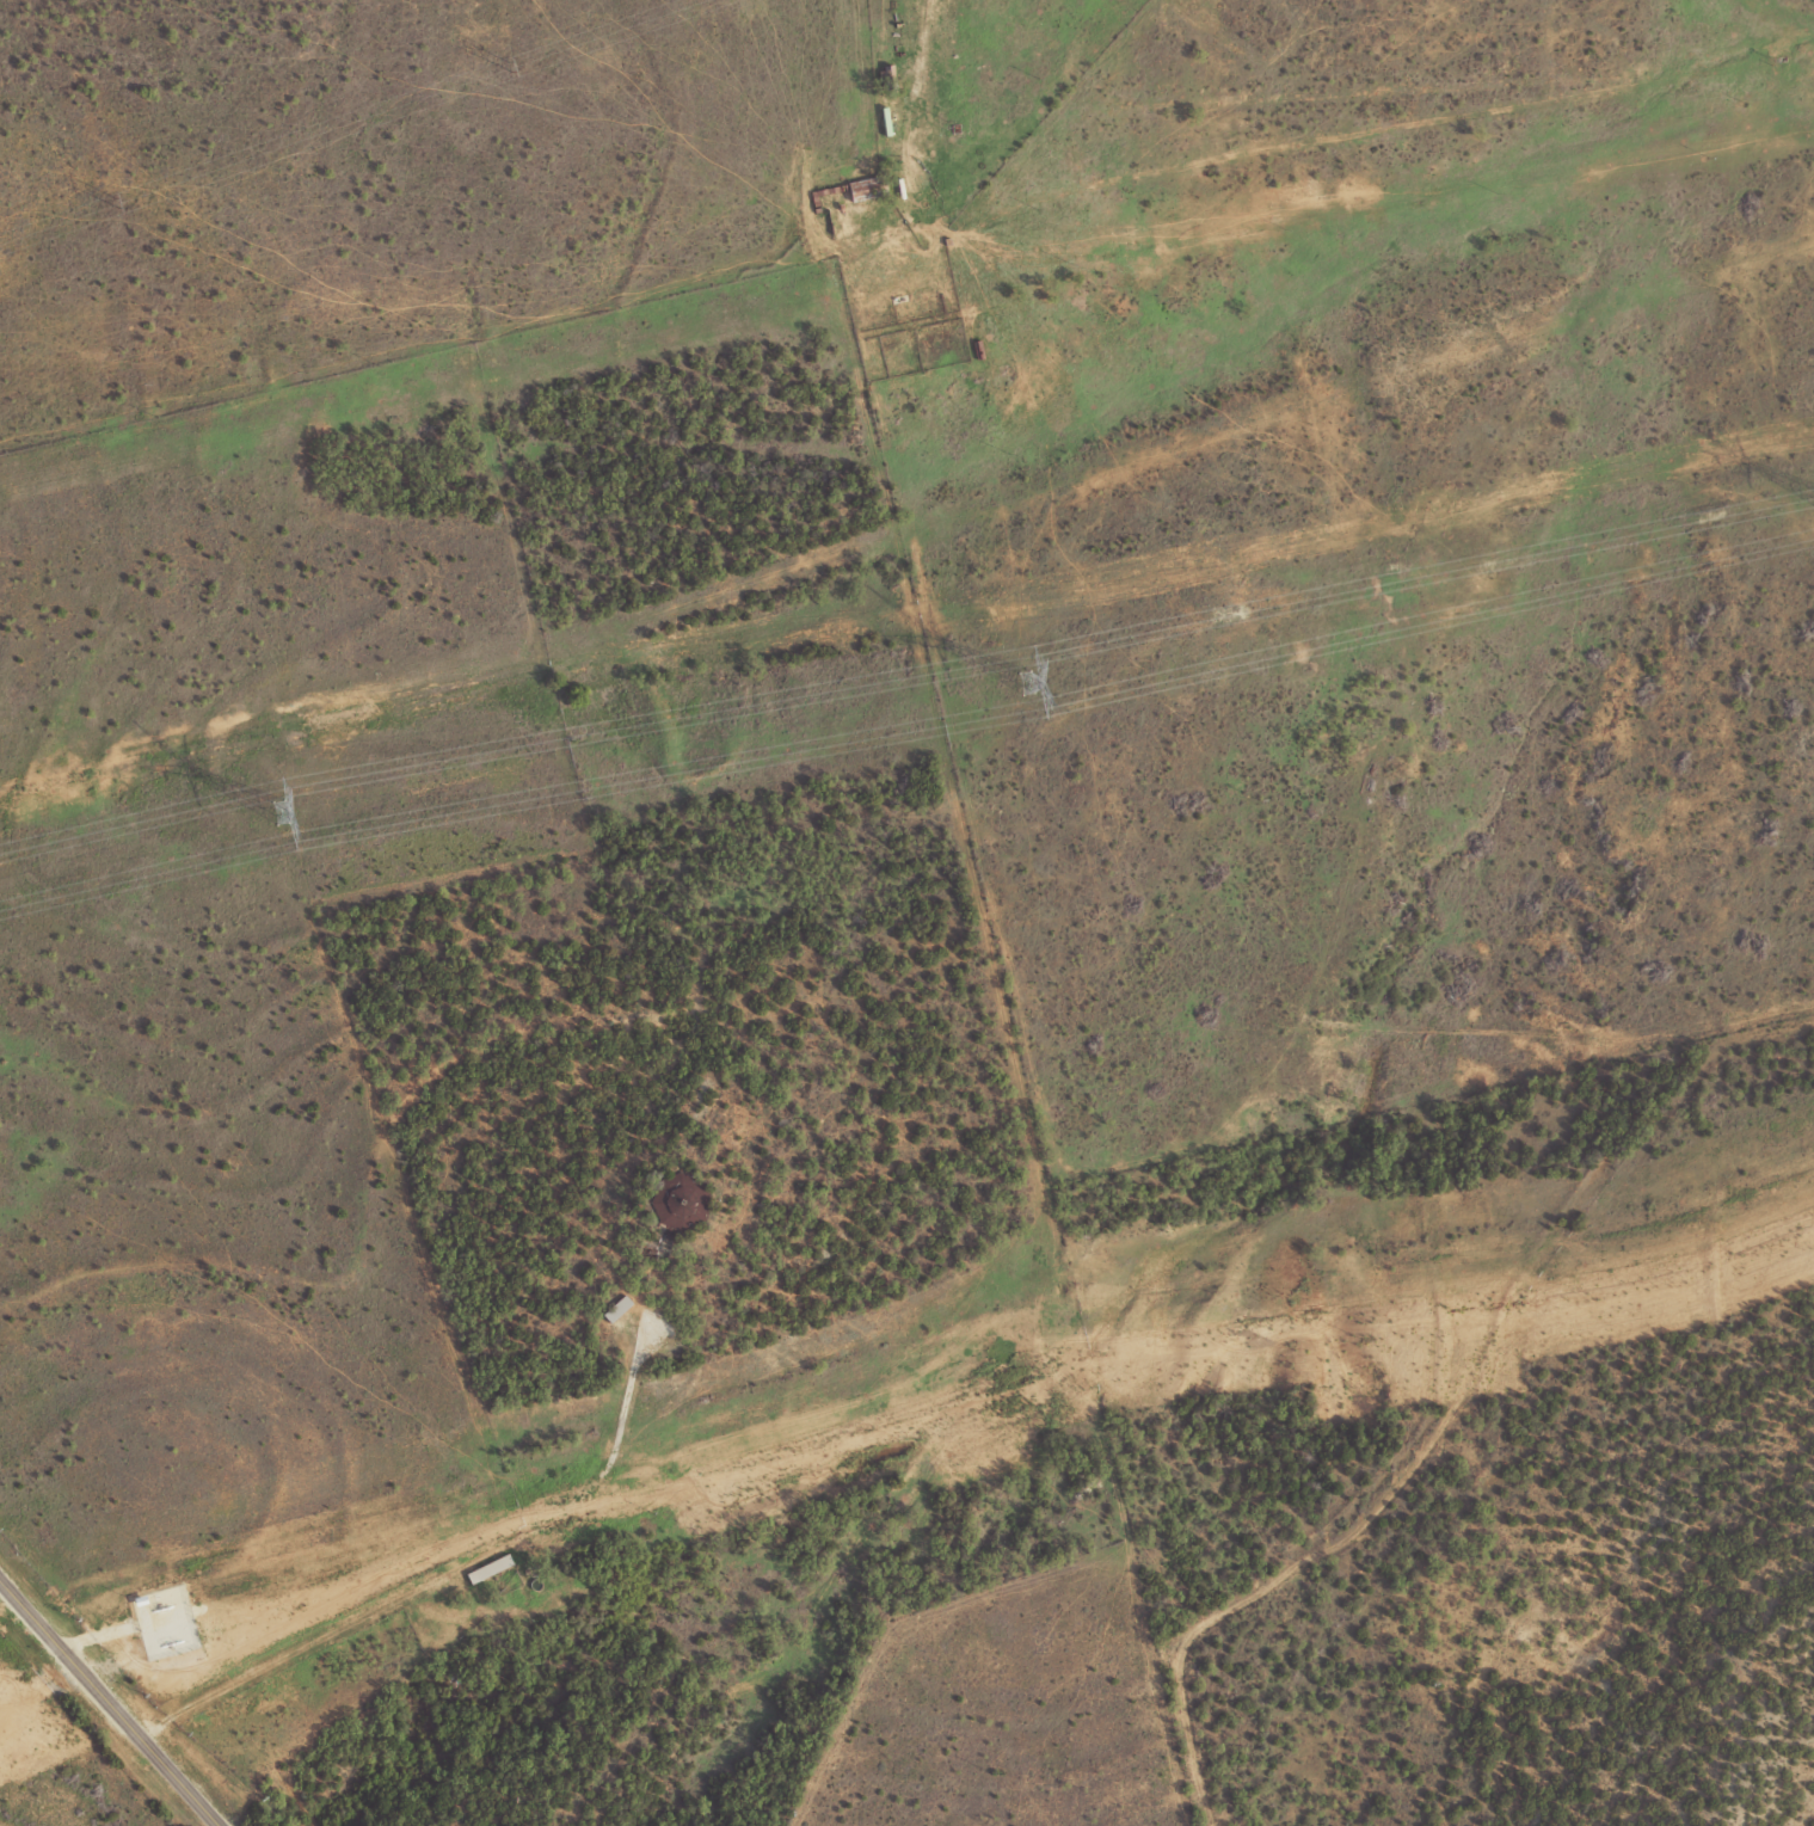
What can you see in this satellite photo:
road: (926, 61)
power tower: (510, 64)
power tower: (117, 202)
power tower: (1023, 682)
power tower: (282, 812)
building: (615, 1308)
road: (1499, 1334)
building: (486, 1568)
road: (287, 1654)
road: (110, 1703)

